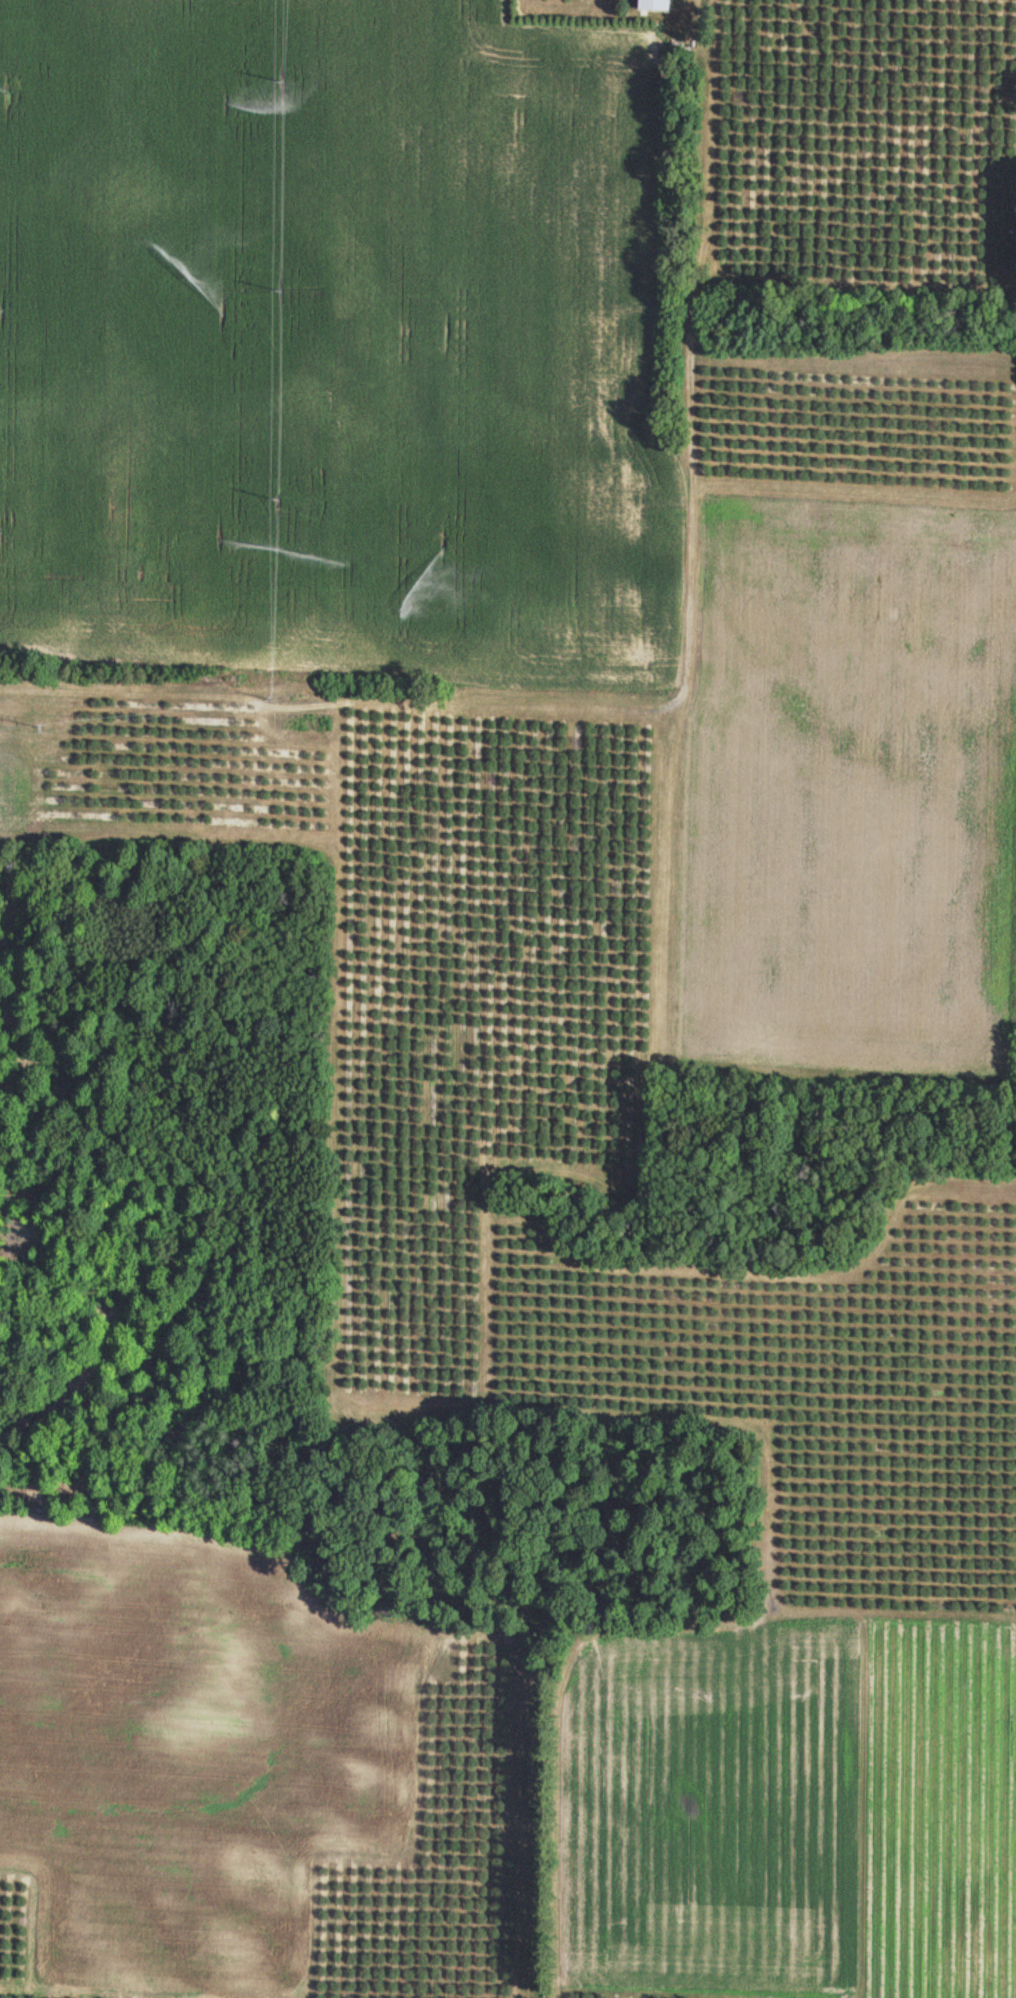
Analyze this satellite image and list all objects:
building: (649, 5)

